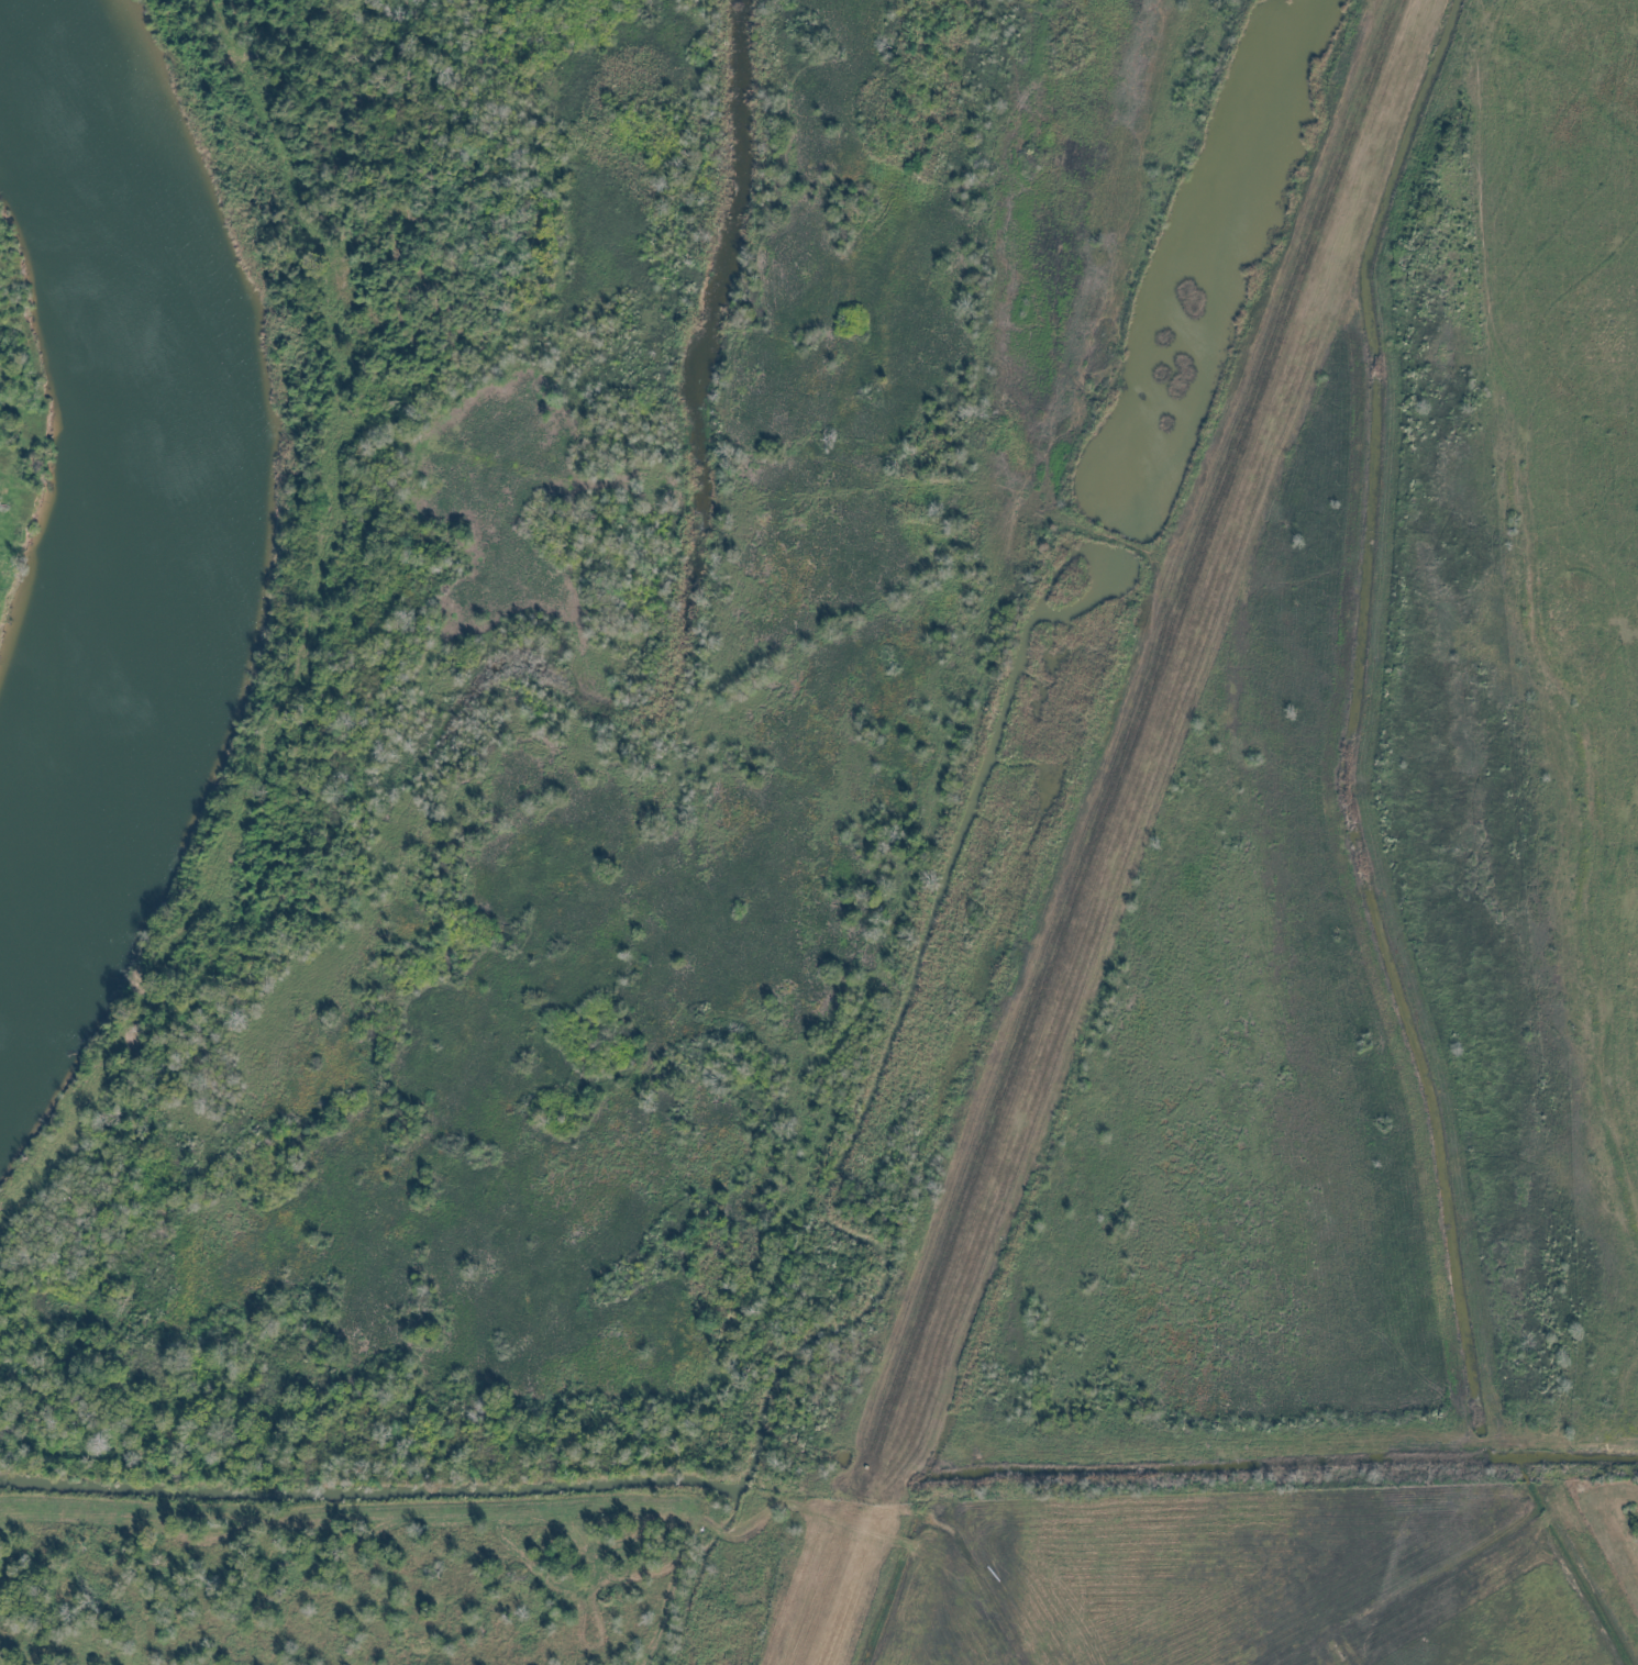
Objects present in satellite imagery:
river: (170, 508)
road: (1110, 832)

